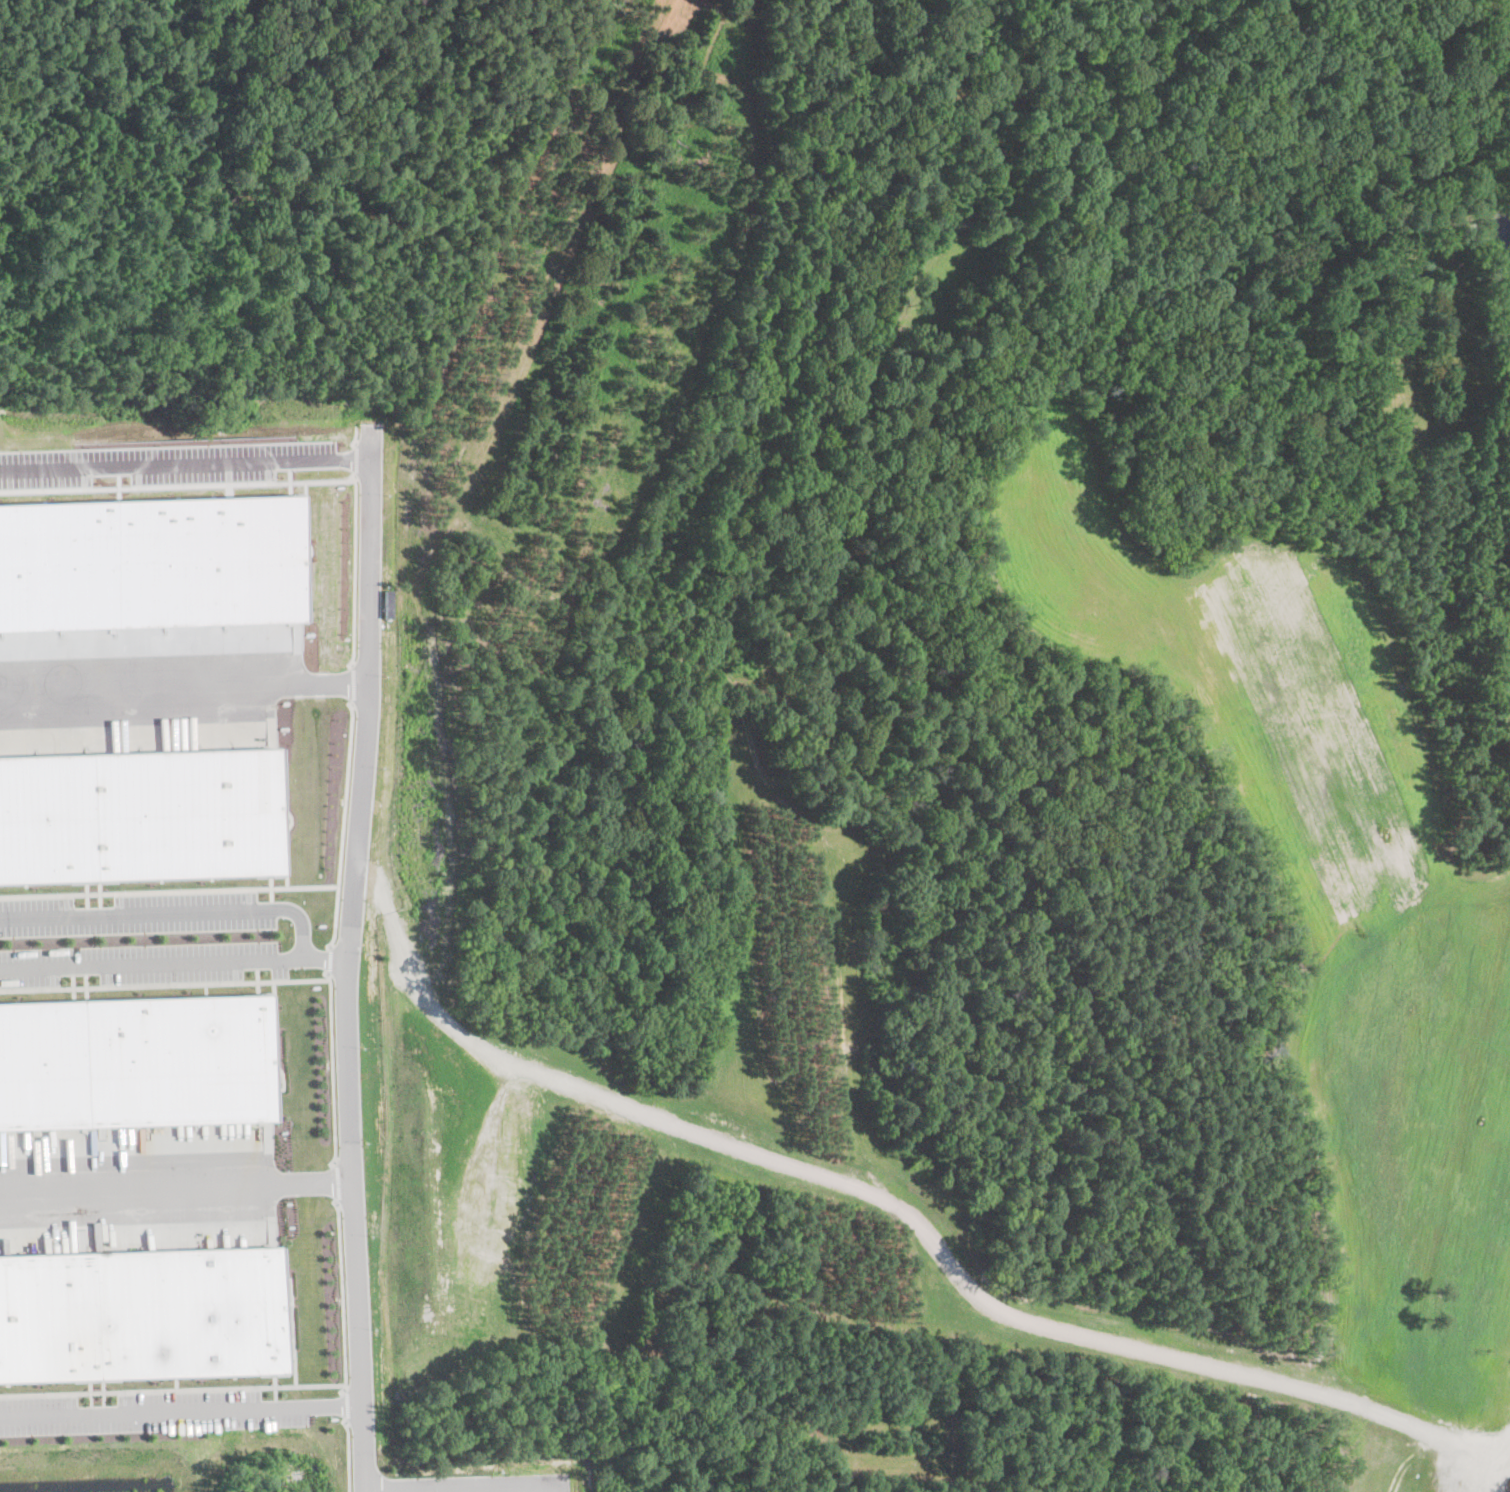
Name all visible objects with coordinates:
road: (185, 463)
road: (354, 570)
quarry: (943, 591)
road: (351, 685)
road: (184, 686)
building: (139, 814)
road: (343, 826)
road: (169, 890)
road: (174, 911)
road: (331, 959)
road: (348, 963)
road: (174, 964)
road: (165, 984)
building: (139, 1061)
road: (334, 1065)
road: (337, 1182)
road: (175, 1186)
road: (340, 1296)
building: (140, 1314)
road: (171, 1389)
road: (343, 1404)
road: (179, 1411)
road: (345, 1455)
road: (462, 1489)
road: (420, 1491)

